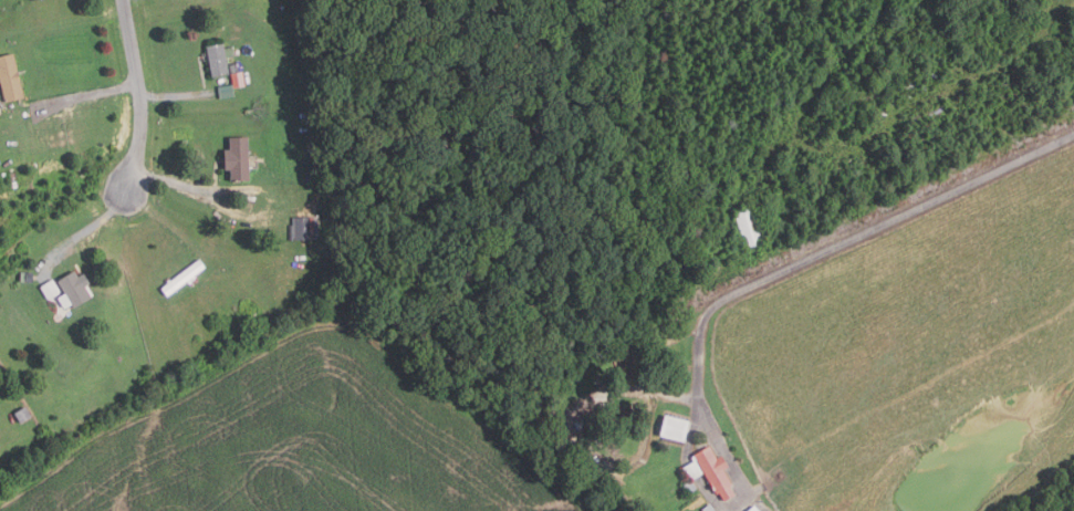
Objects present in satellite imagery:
building: (29, 0)
building: (219, 59)
building: (234, 67)
building: (10, 79)
building: (239, 80)
building: (227, 91)
road: (139, 94)
road: (88, 95)
road: (177, 97)
building: (238, 157)
building: (326, 158)
road: (177, 182)
building: (305, 228)
building: (750, 228)
road: (85, 233)
road: (841, 242)
building: (30, 277)
building: (183, 278)
building: (74, 290)
building: (23, 415)
building: (676, 428)
building: (711, 471)
building: (709, 508)
building: (754, 509)

